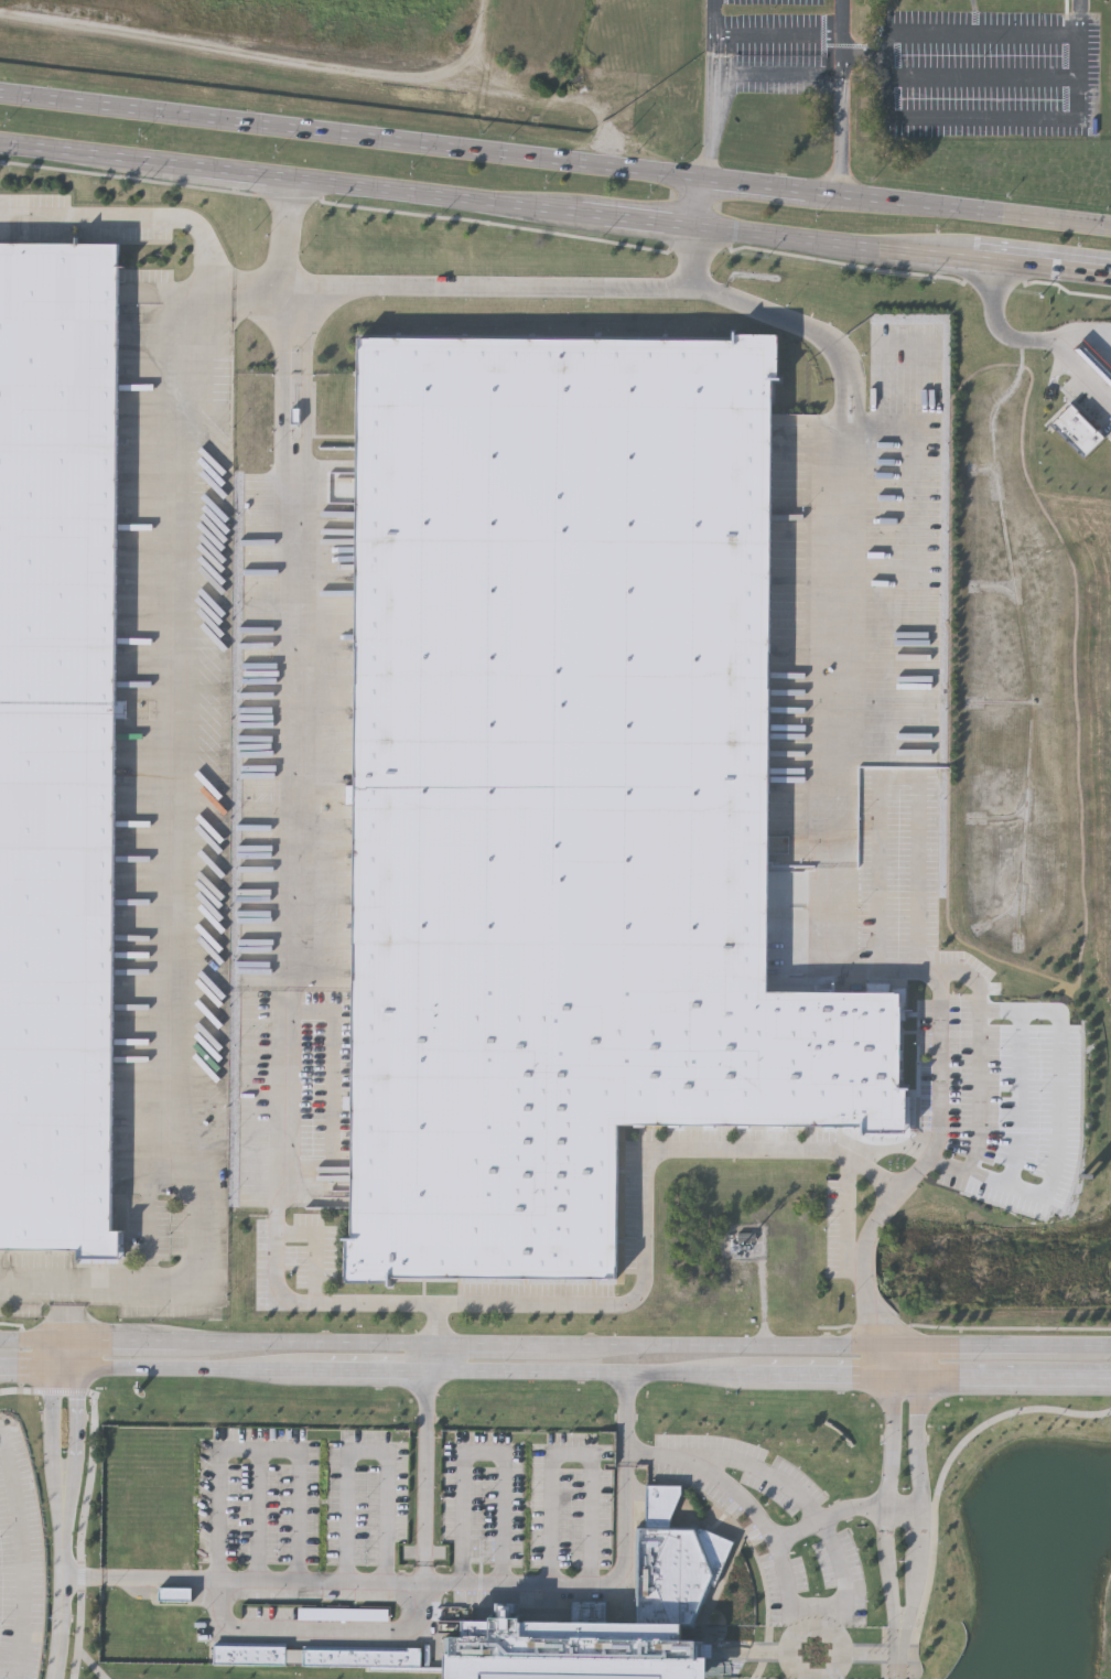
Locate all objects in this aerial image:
road: (1078, 19)
road: (780, 34)
road: (862, 58)
road: (779, 75)
road: (980, 78)
road: (714, 92)
road: (844, 98)
road: (517, 103)
road: (883, 118)
road: (554, 164)
road: (704, 206)
road: (554, 212)
road: (290, 277)
road: (522, 290)
road: (1086, 341)
road: (1034, 342)
building: (1096, 359)
building: (1078, 430)
road: (855, 579)
road: (190, 714)
building: (61, 743)
building: (567, 794)
road: (281, 894)
road: (981, 1074)
road: (1023, 1098)
road: (1067, 1109)
road: (937, 1147)
road: (150, 1205)
road: (866, 1268)
road: (32, 1277)
road: (65, 1309)
road: (32, 1341)
road: (123, 1342)
road: (310, 1342)
road: (507, 1343)
road: (741, 1345)
road: (999, 1346)
road: (1101, 1346)
road: (60, 1356)
road: (72, 1356)
road: (439, 1357)
road: (898, 1360)
road: (913, 1360)
road: (26, 1369)
road: (66, 1370)
road: (194, 1370)
road: (322, 1371)
road: (387, 1371)
road: (595, 1373)
road: (765, 1375)
road: (834, 1375)
road: (906, 1375)
road: (1015, 1375)
road: (432, 1392)
road: (627, 1396)
road: (54, 1433)
road: (77, 1433)
road: (626, 1433)
road: (256, 1451)
road: (365, 1453)
road: (481, 1455)
road: (567, 1456)
road: (424, 1483)
road: (903, 1497)
road: (887, 1502)
road: (918, 1503)
road: (754, 1513)
road: (261, 1516)
road: (833, 1536)
road: (21, 1557)
parking lot: (20, 1559)
building: (680, 1562)
road: (423, 1570)
road: (82, 1575)
road: (261, 1581)
road: (592, 1586)
road: (63, 1587)
building: (350, 1614)
road: (311, 1629)
road: (898, 1653)
building: (319, 1657)
road: (896, 1678)

